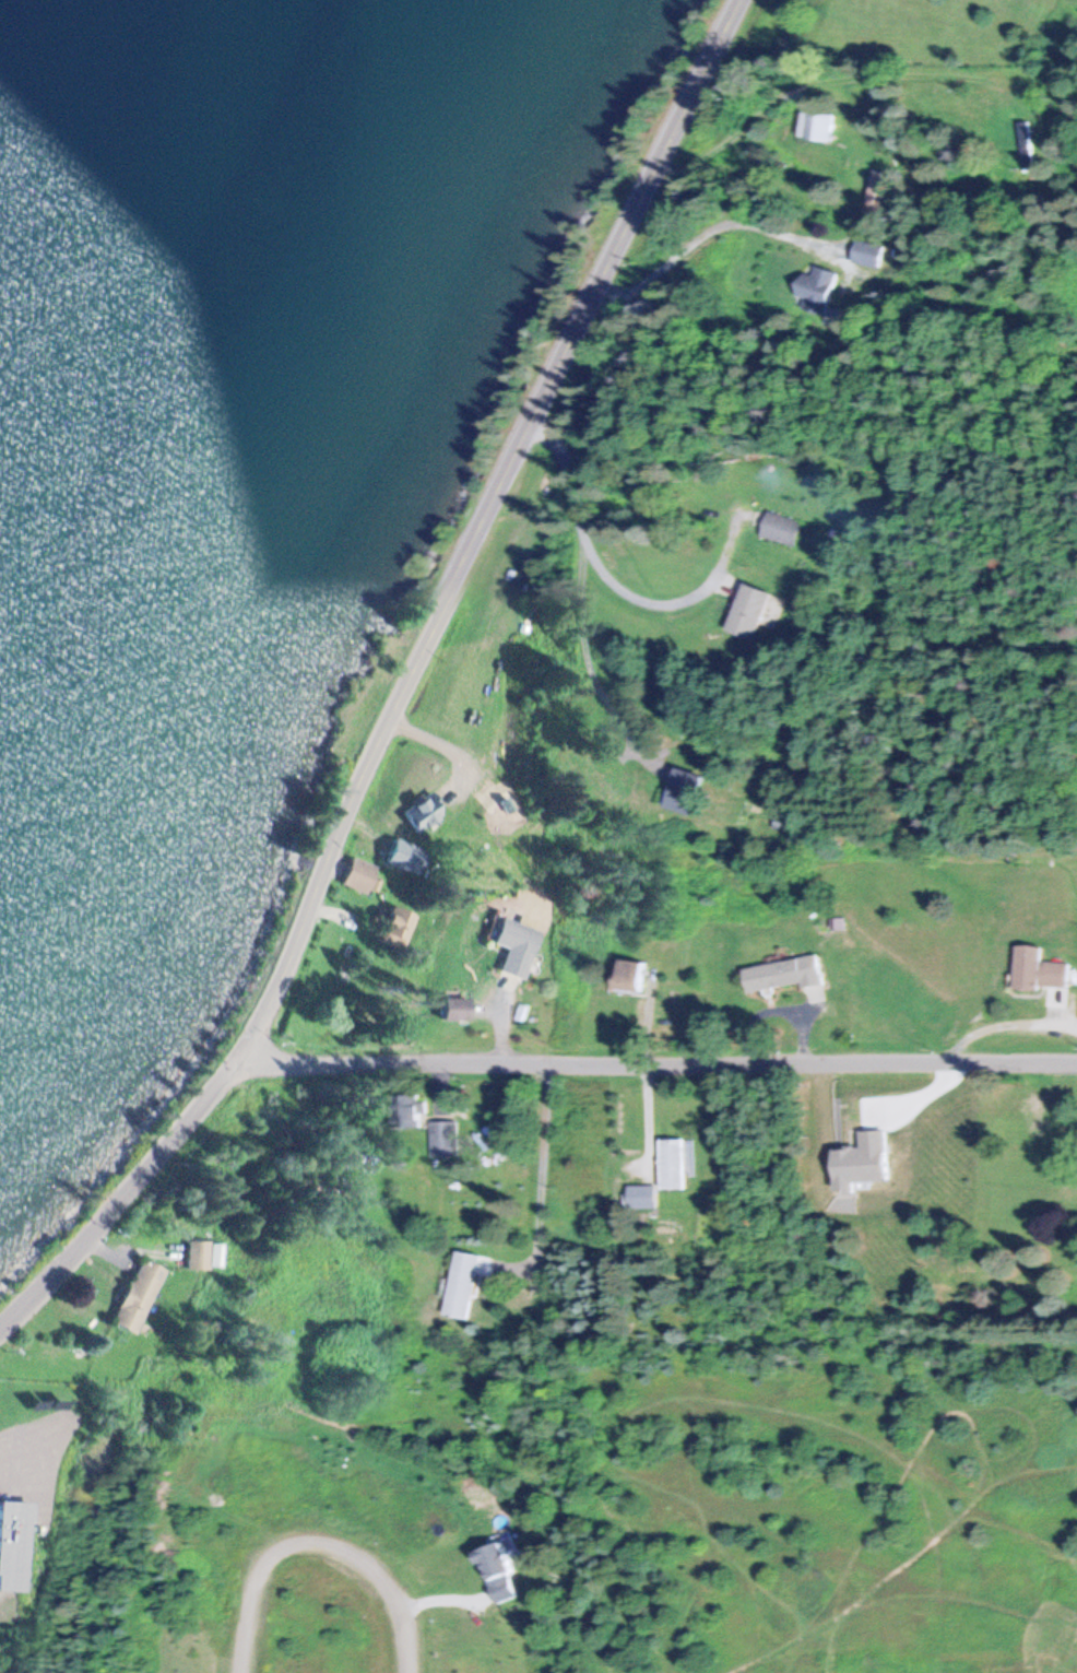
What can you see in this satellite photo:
building: (817, 125)
building: (1027, 144)
building: (875, 180)
building: (867, 251)
building: (816, 288)
road: (564, 480)
road: (487, 519)
building: (780, 528)
road: (588, 561)
building: (747, 610)
building: (682, 790)
building: (413, 812)
building: (785, 822)
building: (356, 874)
building: (395, 924)
building: (510, 944)
building: (1037, 970)
building: (783, 973)
building: (630, 974)
building: (448, 1008)
road: (659, 1062)
building: (403, 1110)
building: (443, 1138)
building: (673, 1163)
road: (541, 1167)
road: (122, 1185)
building: (642, 1195)
building: (205, 1254)
building: (462, 1284)
building: (135, 1295)
road: (327, 1541)
building: (9, 1544)
building: (495, 1570)

